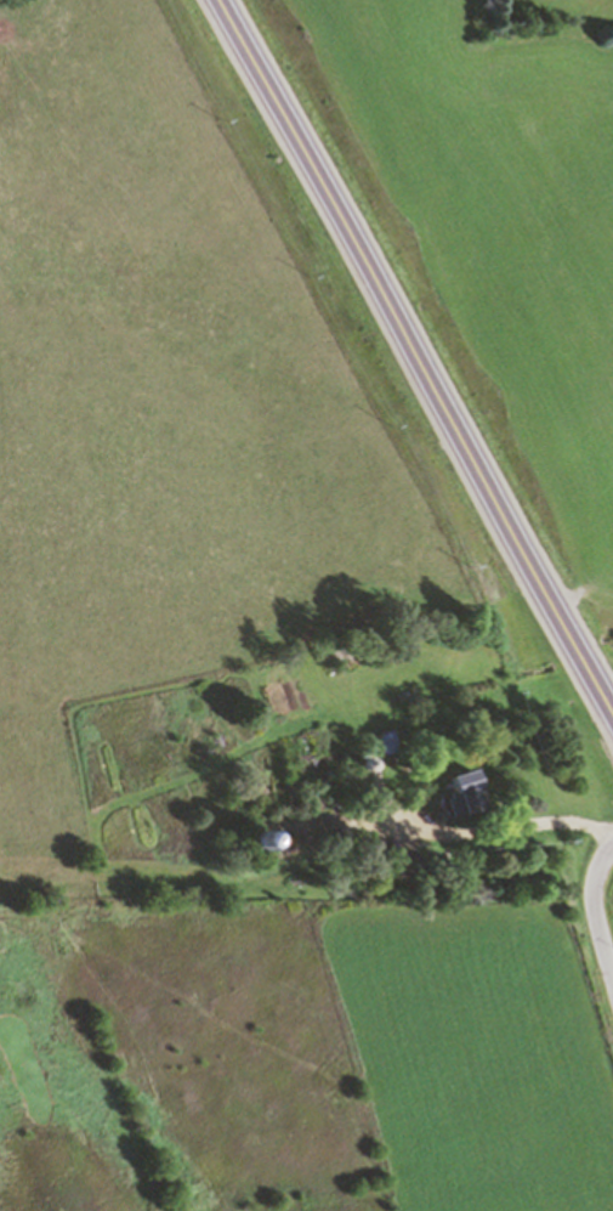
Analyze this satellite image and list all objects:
road: (421, 352)
building: (344, 656)
building: (320, 765)
building: (467, 790)
building: (271, 796)
road: (499, 825)
road: (592, 913)

